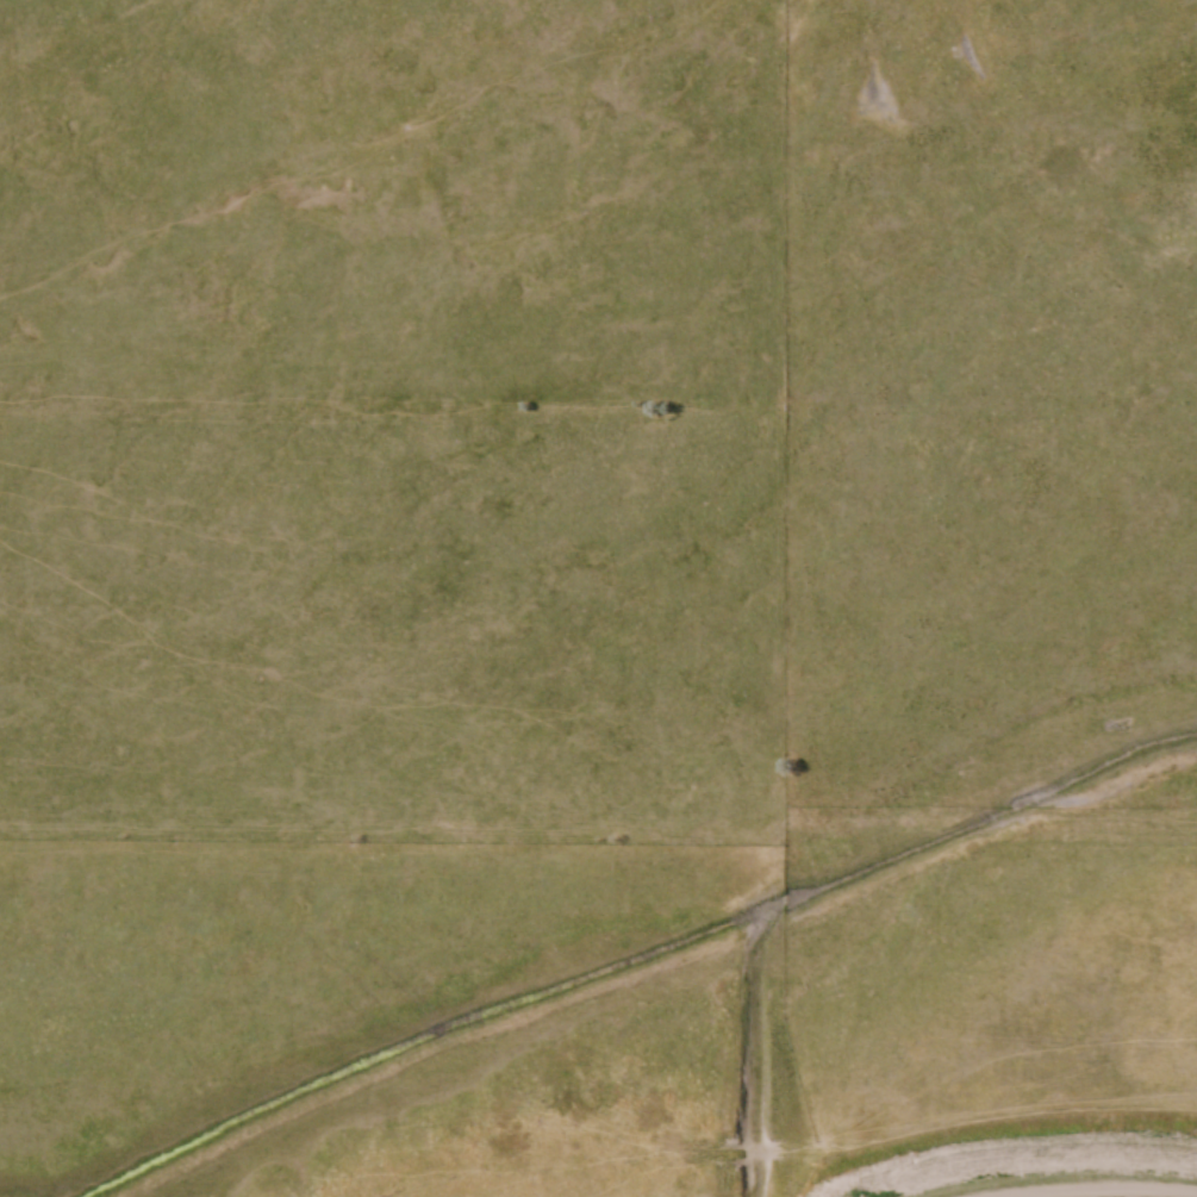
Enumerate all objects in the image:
road: (1051, 1196)

